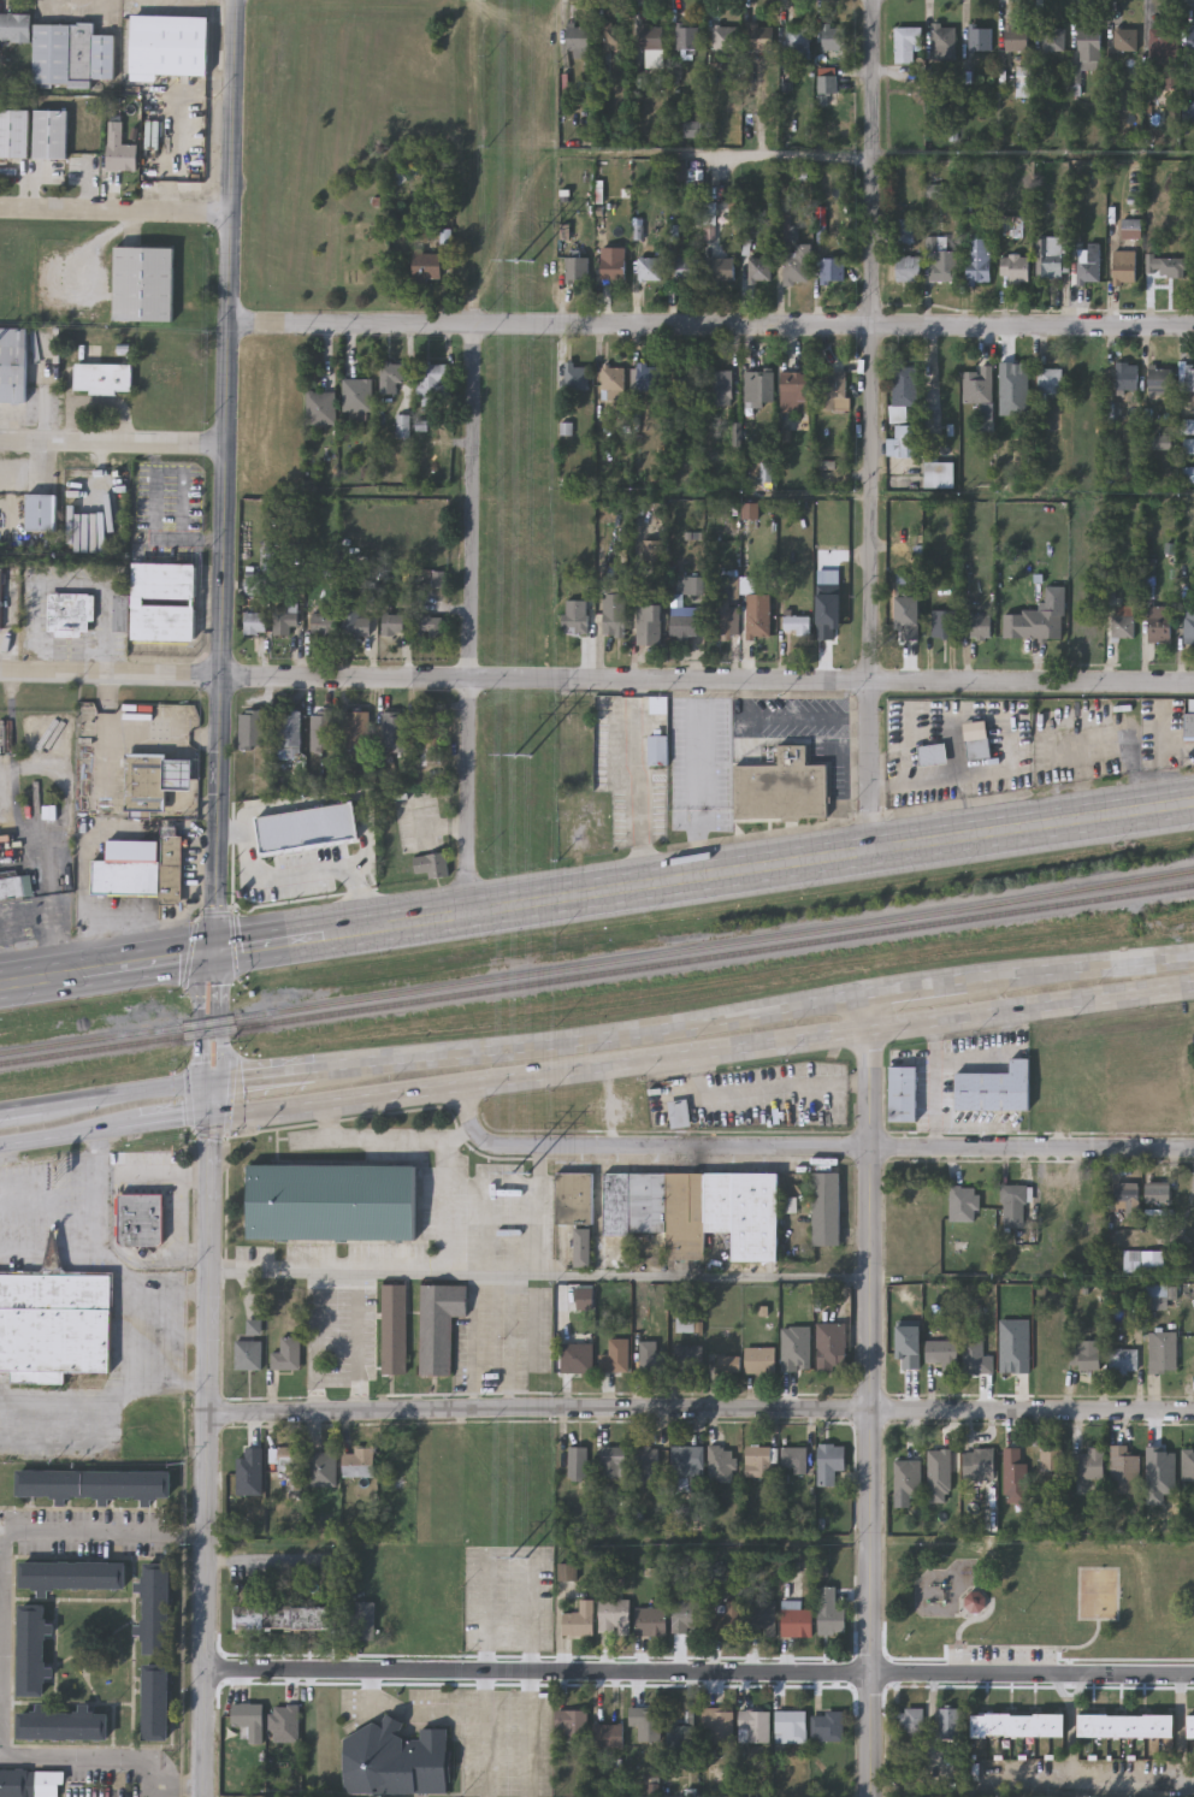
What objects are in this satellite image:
building: (16, 26)
building: (651, 37)
building: (979, 37)
building: (1016, 37)
building: (615, 39)
building: (686, 39)
building: (723, 39)
building: (759, 39)
building: (834, 39)
building: (1052, 39)
building: (1124, 39)
building: (578, 41)
building: (942, 41)
building: (1192, 41)
building: (796, 42)
building: (1163, 42)
building: (906, 43)
building: (1088, 43)
building: (183, 45)
building: (72, 53)
building: (826, 83)
building: (692, 129)
building: (14, 132)
building: (52, 134)
building: (120, 152)
road: (715, 153)
road: (116, 213)
building: (1051, 258)
building: (940, 260)
power tower: (527, 261)
building: (977, 261)
building: (613, 264)
building: (796, 266)
building: (427, 267)
building: (1087, 267)
building: (1124, 267)
building: (1165, 267)
building: (649, 268)
building: (908, 268)
building: (1013, 268)
building: (685, 270)
building: (722, 270)
building: (757, 270)
building: (831, 270)
building: (575, 271)
building: (146, 283)
road: (713, 329)
building: (13, 363)
building: (105, 377)
building: (391, 377)
building: (1186, 377)
building: (649, 378)
building: (684, 378)
building: (1127, 378)
building: (575, 379)
building: (1158, 382)
building: (432, 383)
building: (613, 383)
building: (1048, 383)
building: (833, 385)
building: (976, 385)
building: (794, 386)
building: (719, 389)
building: (757, 389)
building: (903, 390)
building: (357, 396)
building: (320, 408)
road: (875, 427)
building: (904, 442)
road: (114, 444)
road: (227, 475)
building: (938, 475)
building: (40, 512)
building: (691, 586)
building: (253, 587)
building: (1075, 590)
building: (1176, 590)
building: (1078, 592)
building: (1, 597)
building: (164, 601)
building: (752, 605)
building: (611, 607)
building: (120, 611)
building: (70, 613)
building: (1051, 613)
building: (904, 614)
building: (725, 616)
building: (574, 617)
road: (472, 621)
building: (284, 622)
building: (685, 622)
building: (254, 623)
building: (392, 623)
building: (649, 623)
building: (942, 623)
building: (1158, 623)
building: (1189, 623)
building: (976, 625)
building: (323, 626)
building: (428, 626)
building: (796, 626)
building: (356, 627)
building: (1121, 627)
building: (1086, 628)
road: (112, 672)
road: (709, 682)
building: (657, 704)
road: (796, 717)
building: (1094, 719)
building: (1189, 720)
building: (249, 727)
building: (357, 728)
building: (431, 729)
building: (324, 731)
building: (395, 731)
building: (288, 732)
building: (658, 749)
building: (980, 751)
power tower: (526, 756)
building: (179, 772)
building: (938, 776)
building: (144, 781)
road: (699, 781)
building: (782, 787)
road: (640, 803)
road: (231, 829)
building: (362, 855)
building: (171, 864)
building: (433, 864)
road: (768, 869)
road: (282, 875)
building: (124, 877)
building: (17, 886)
road: (361, 902)
road: (277, 942)
traffic signals: (213, 952)
railway: (597, 962)
road: (147, 963)
road: (1078, 964)
railway: (596, 973)
road: (41, 980)
road: (914, 985)
road: (201, 1017)
road: (224, 1018)
road: (590, 1030)
road: (701, 1051)
road: (971, 1054)
road: (262, 1076)
traffic signals: (209, 1083)
building: (994, 1088)
road: (761, 1090)
building: (902, 1093)
road: (125, 1095)
road: (208, 1100)
road: (936, 1104)
road: (20, 1110)
traffic signals: (208, 1117)
road: (175, 1119)
road: (70, 1134)
road: (386, 1140)
road: (809, 1148)
power tower: (524, 1172)
road: (152, 1175)
building: (1140, 1193)
building: (969, 1194)
building: (573, 1196)
building: (1093, 1196)
building: (331, 1201)
road: (447, 1205)
building: (1012, 1205)
road: (48, 1208)
parking lot: (428, 1208)
building: (694, 1208)
building: (824, 1208)
road: (538, 1211)
building: (141, 1220)
road: (181, 1225)
road: (104, 1248)
road: (538, 1275)
building: (1155, 1290)
building: (1160, 1294)
building: (55, 1323)
building: (437, 1324)
building: (392, 1328)
road: (149, 1332)
parking lot: (502, 1341)
road: (314, 1342)
road: (357, 1342)
road: (475, 1342)
parking lot: (342, 1343)
road: (512, 1343)
building: (831, 1346)
building: (1162, 1350)
building: (942, 1352)
building: (1084, 1353)
building: (249, 1355)
building: (288, 1355)
building: (979, 1355)
building: (613, 1356)
road: (137, 1358)
building: (577, 1358)
building: (649, 1358)
building: (687, 1359)
building: (1122, 1359)
building: (759, 1360)
building: (728, 1362)
road: (869, 1394)
road: (107, 1407)
road: (702, 1411)
road: (208, 1456)
building: (684, 1458)
building: (793, 1459)
building: (286, 1461)
building: (614, 1461)
building: (757, 1461)
building: (1050, 1461)
building: (357, 1462)
building: (828, 1462)
building: (1089, 1462)
building: (577, 1464)
building: (645, 1464)
building: (721, 1464)
building: (979, 1464)
building: (1188, 1464)
building: (319, 1468)
building: (1123, 1470)
building: (1013, 1474)
building: (908, 1478)
building: (94, 1485)
road: (94, 1532)
road: (197, 1535)
power tower: (521, 1557)
road: (262, 1560)
building: (73, 1574)
park: (1100, 1595)
parking lot: (509, 1598)
park: (1041, 1600)
building: (979, 1604)
building: (156, 1607)
building: (828, 1613)
building: (613, 1616)
building: (687, 1616)
building: (759, 1616)
building: (284, 1618)
building: (578, 1619)
building: (650, 1621)
building: (726, 1621)
building: (796, 1622)
building: (32, 1650)
parking lot: (1004, 1659)
road: (699, 1672)
building: (156, 1701)
road: (416, 1714)
building: (248, 1716)
building: (909, 1719)
building: (644, 1721)
building: (284, 1722)
building: (64, 1724)
building: (572, 1724)
building: (948, 1724)
building: (1017, 1724)
building: (717, 1725)
building: (1125, 1725)
building: (1190, 1725)
building: (753, 1726)
building: (790, 1726)
building: (826, 1726)
parking lot: (475, 1733)
road: (489, 1733)
road: (531, 1733)
building: (607, 1734)
building: (680, 1739)
road: (116, 1757)
building: (395, 1760)
road: (1130, 1777)
building: (31, 1783)
road: (150, 1791)

